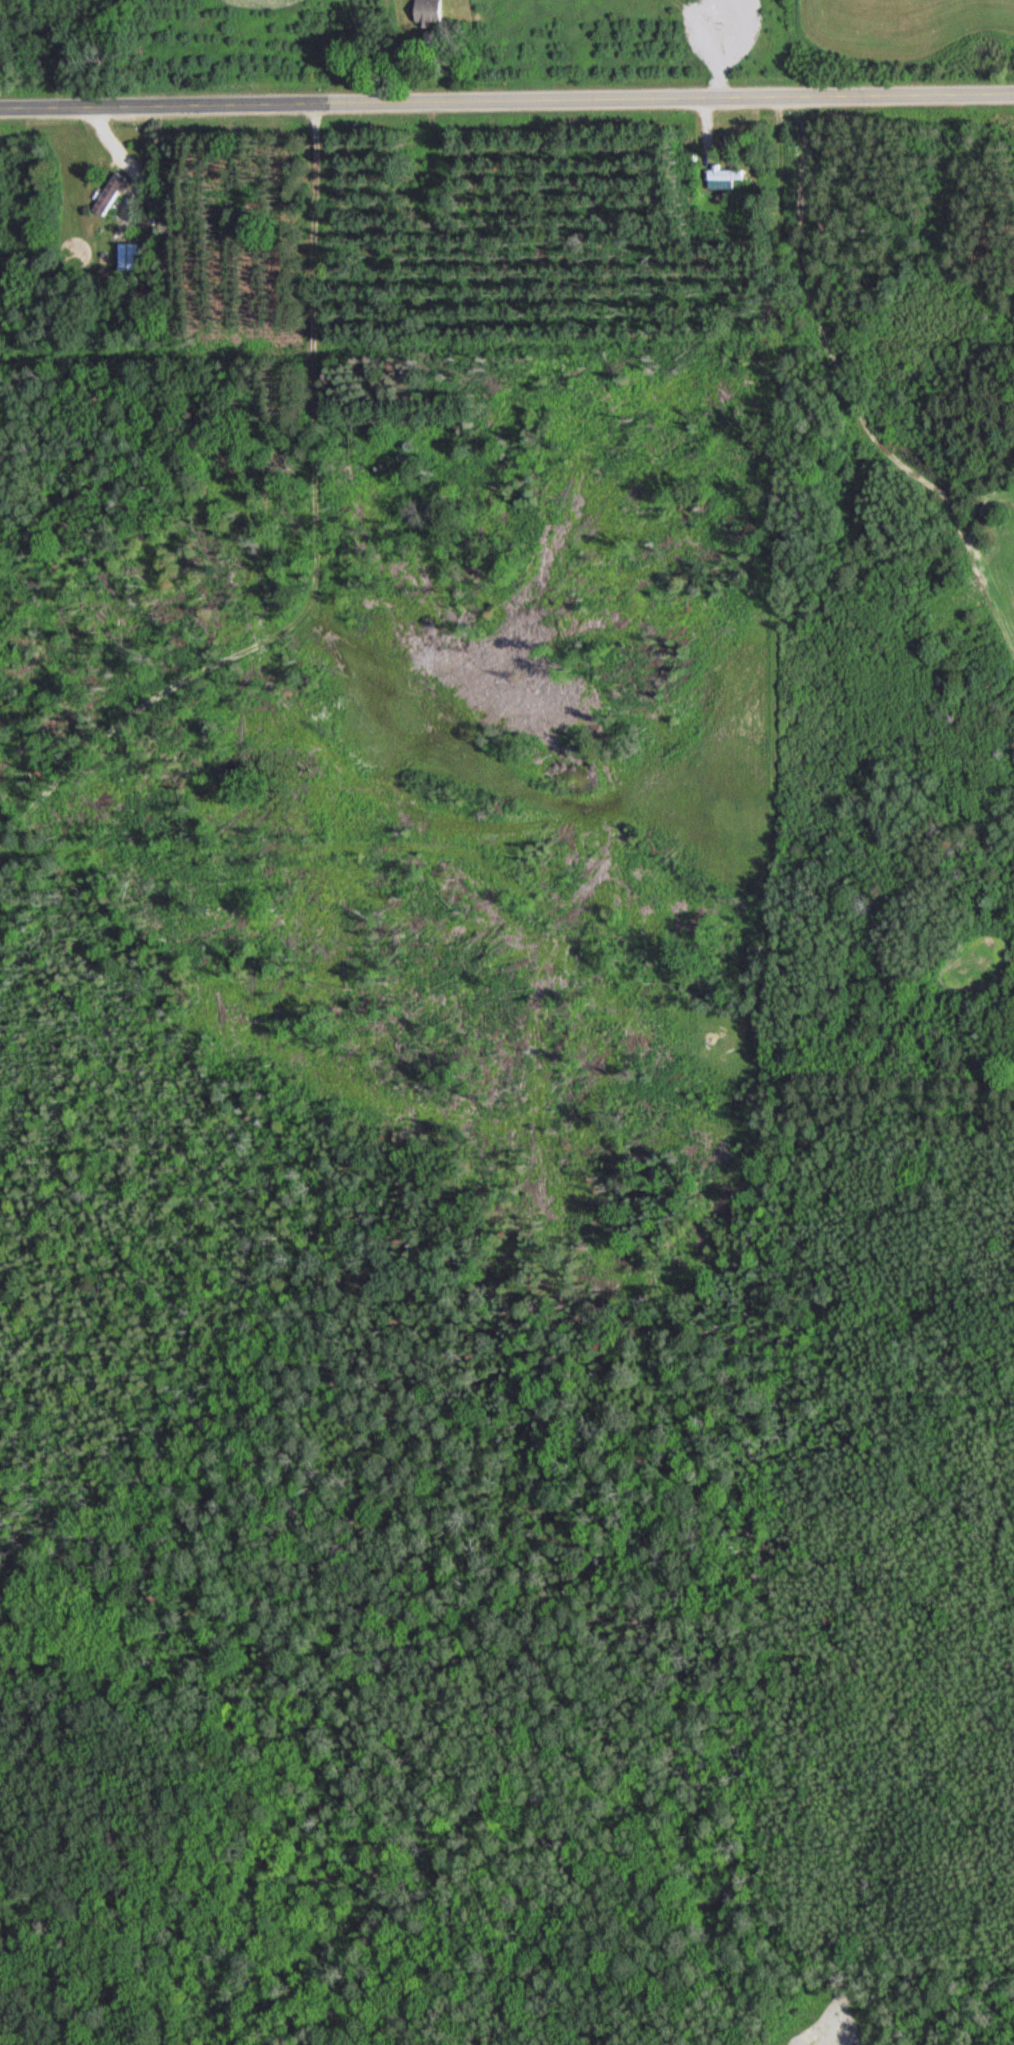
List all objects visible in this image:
building: (427, 10)
road: (402, 51)
road: (506, 101)
building: (731, 174)
building: (109, 194)
building: (133, 257)
road: (335, 556)

